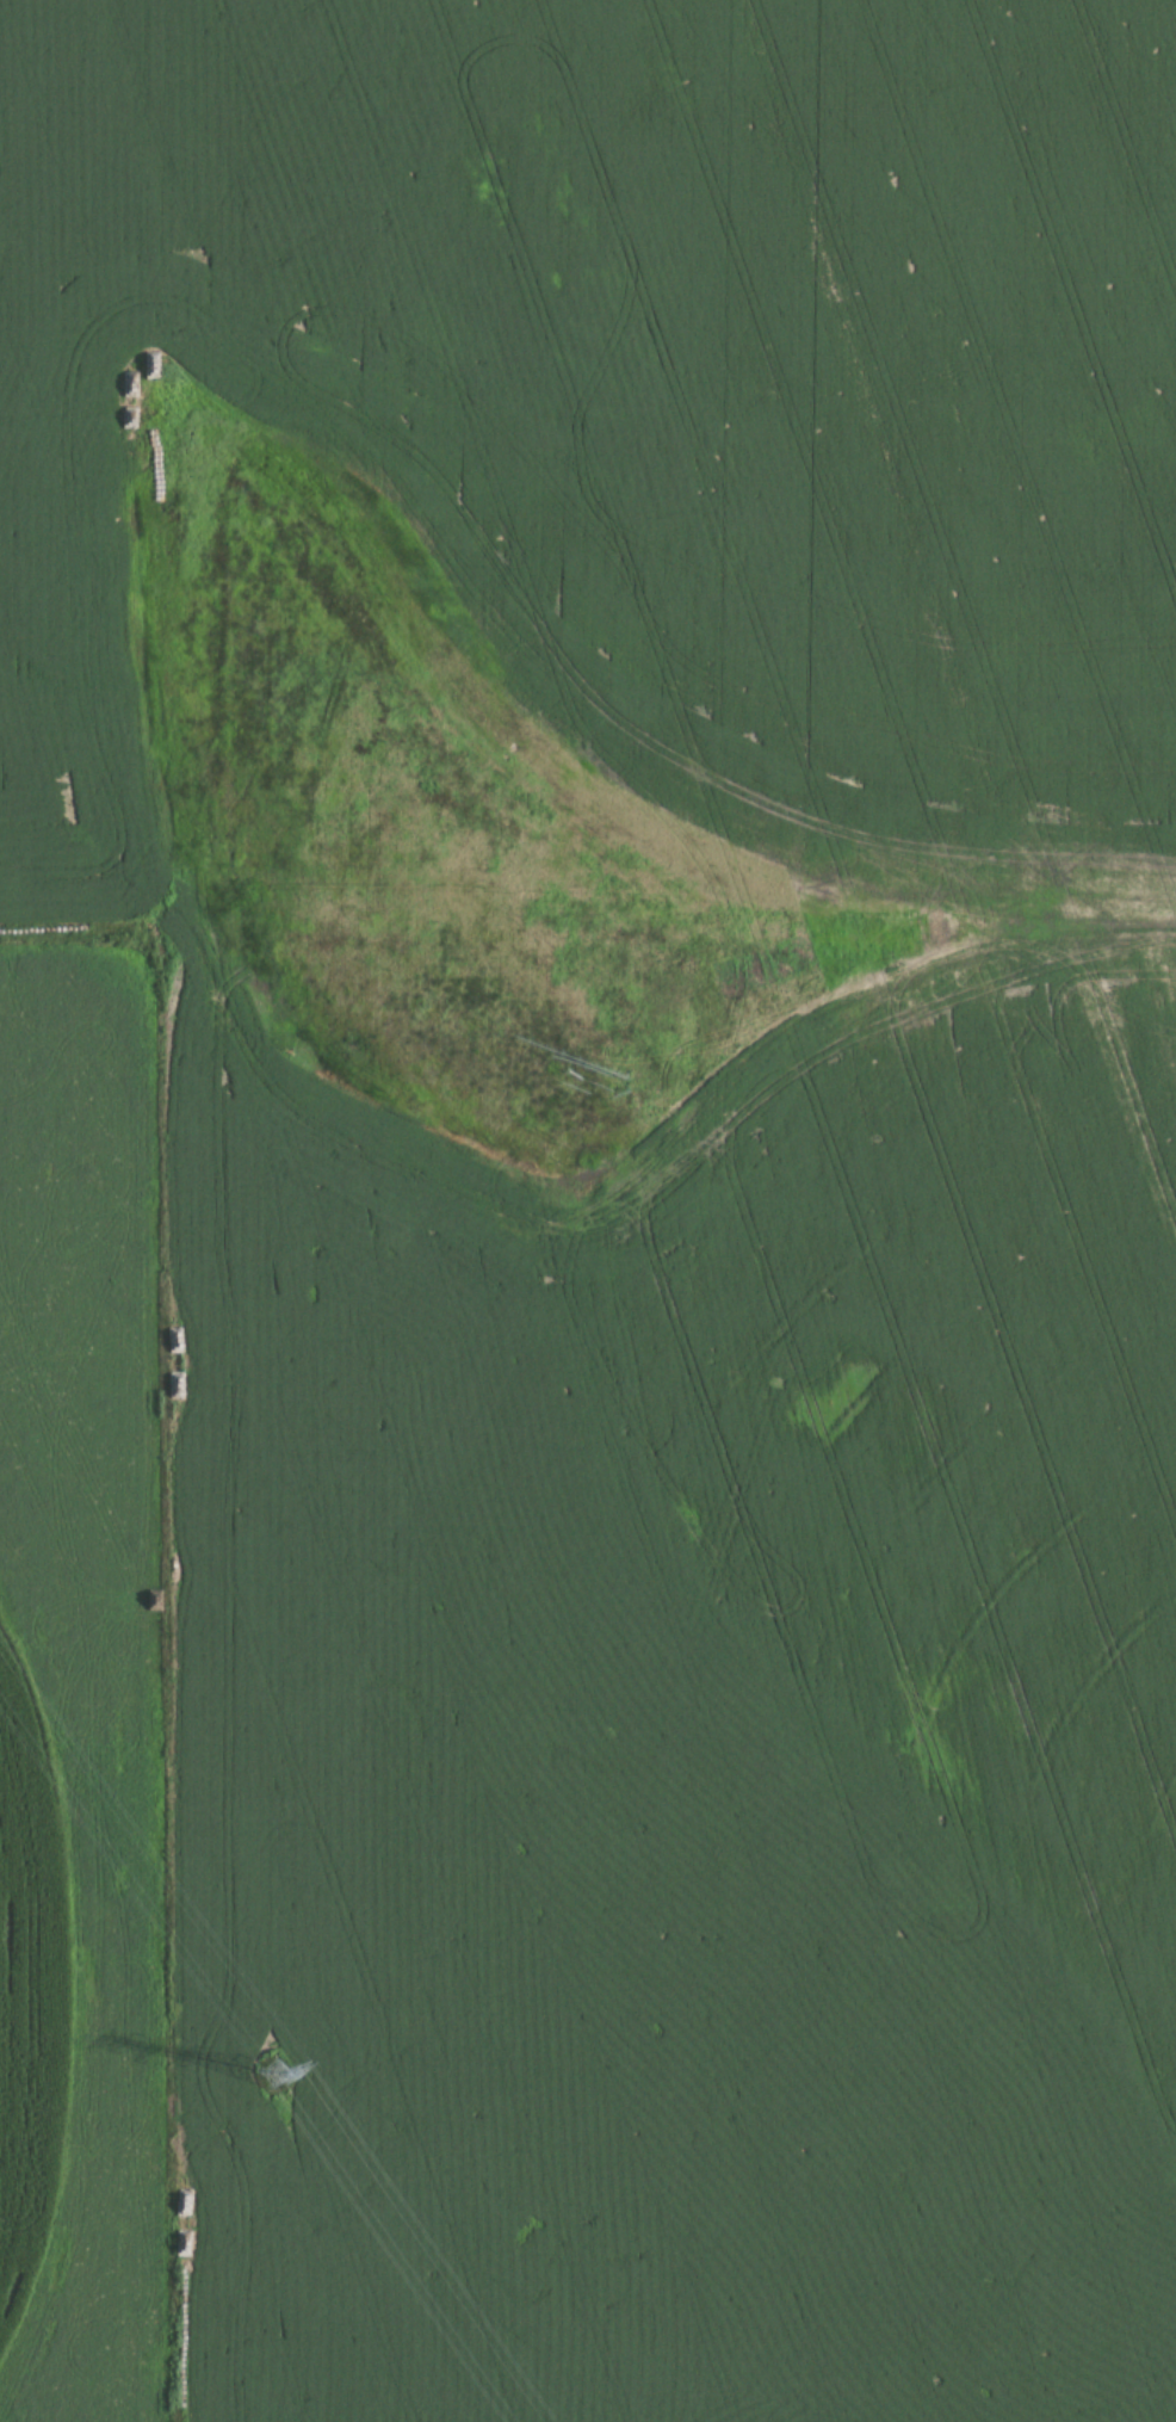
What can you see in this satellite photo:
power tower: (266, 2076)

